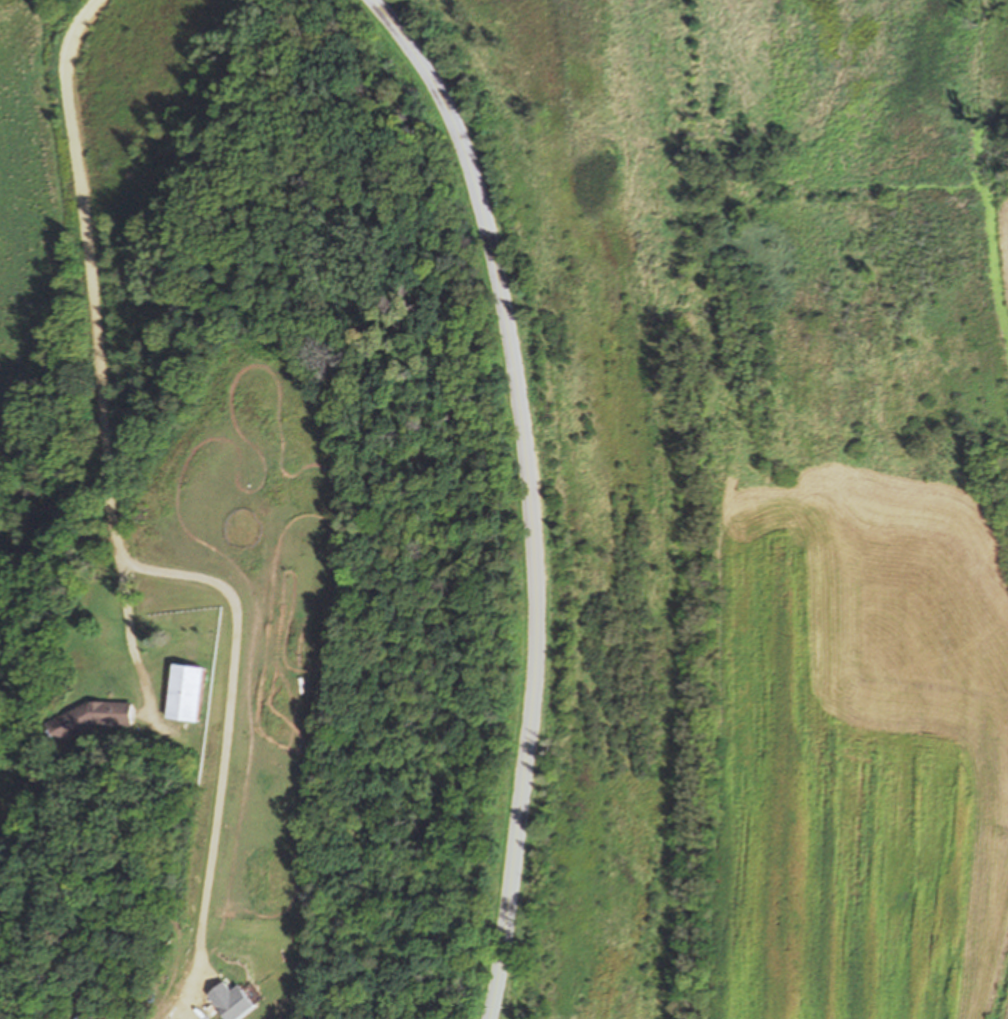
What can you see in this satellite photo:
road: (101, 354)
road: (528, 494)
building: (189, 691)
building: (92, 717)
road: (231, 723)

